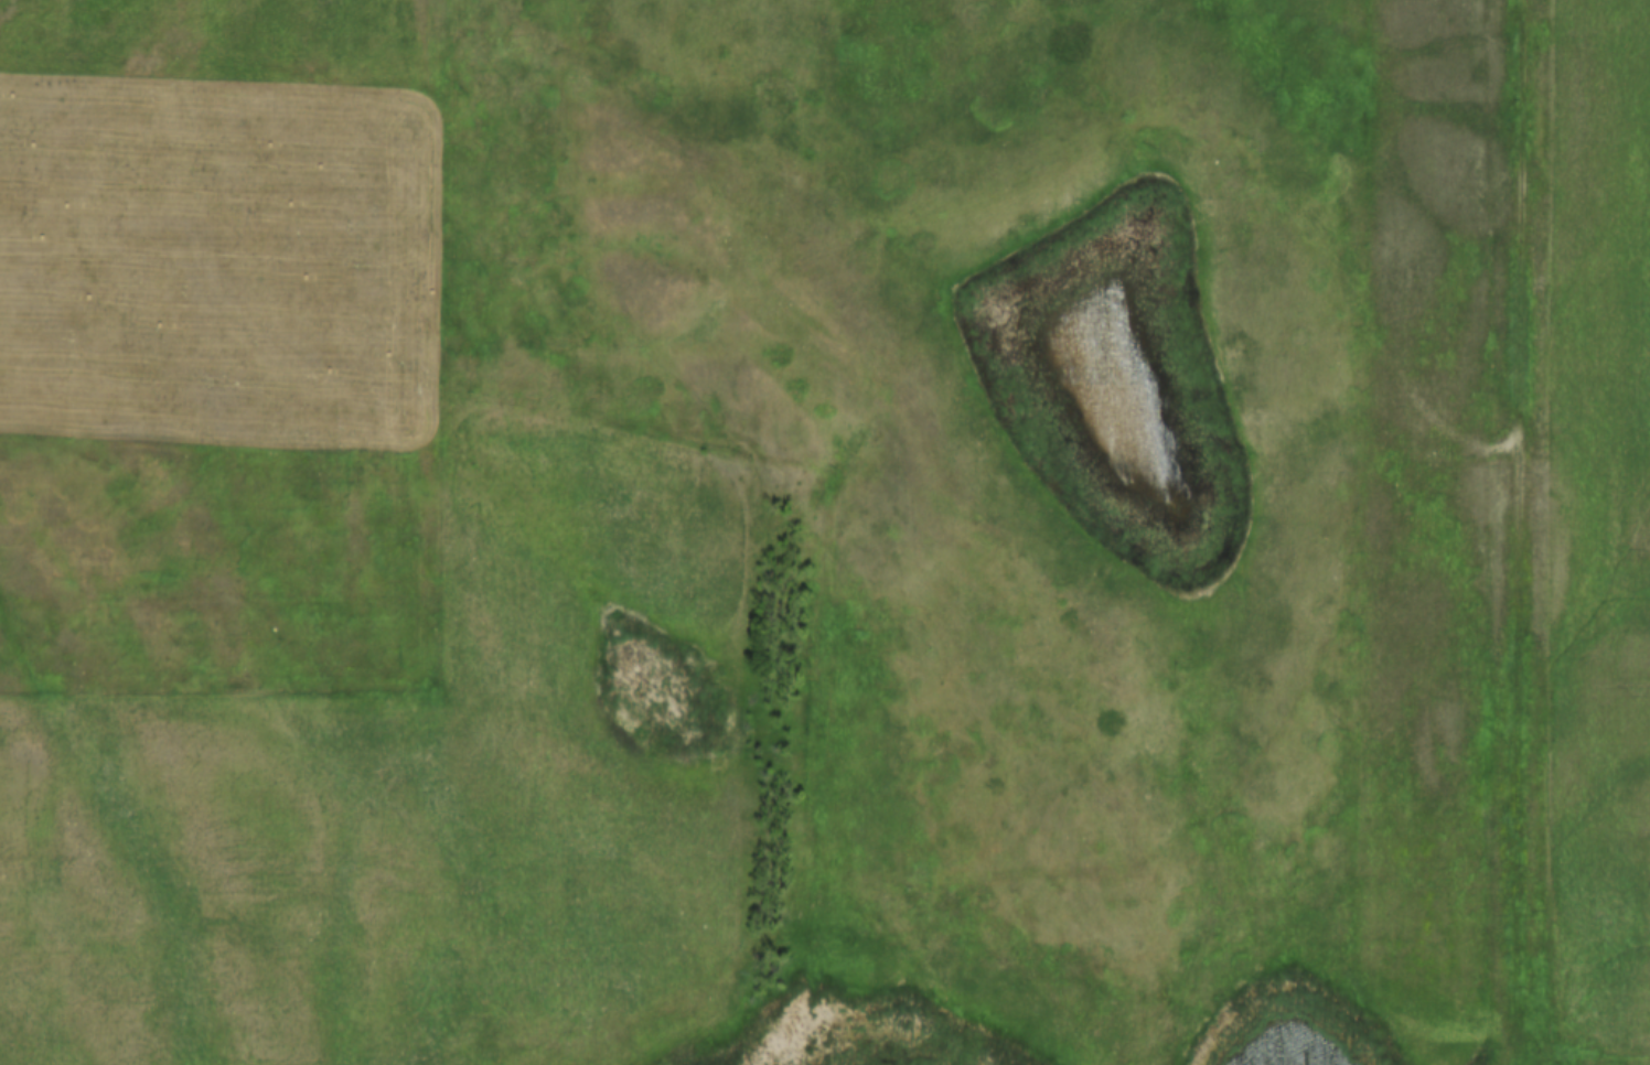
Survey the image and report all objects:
road: (1519, 531)

